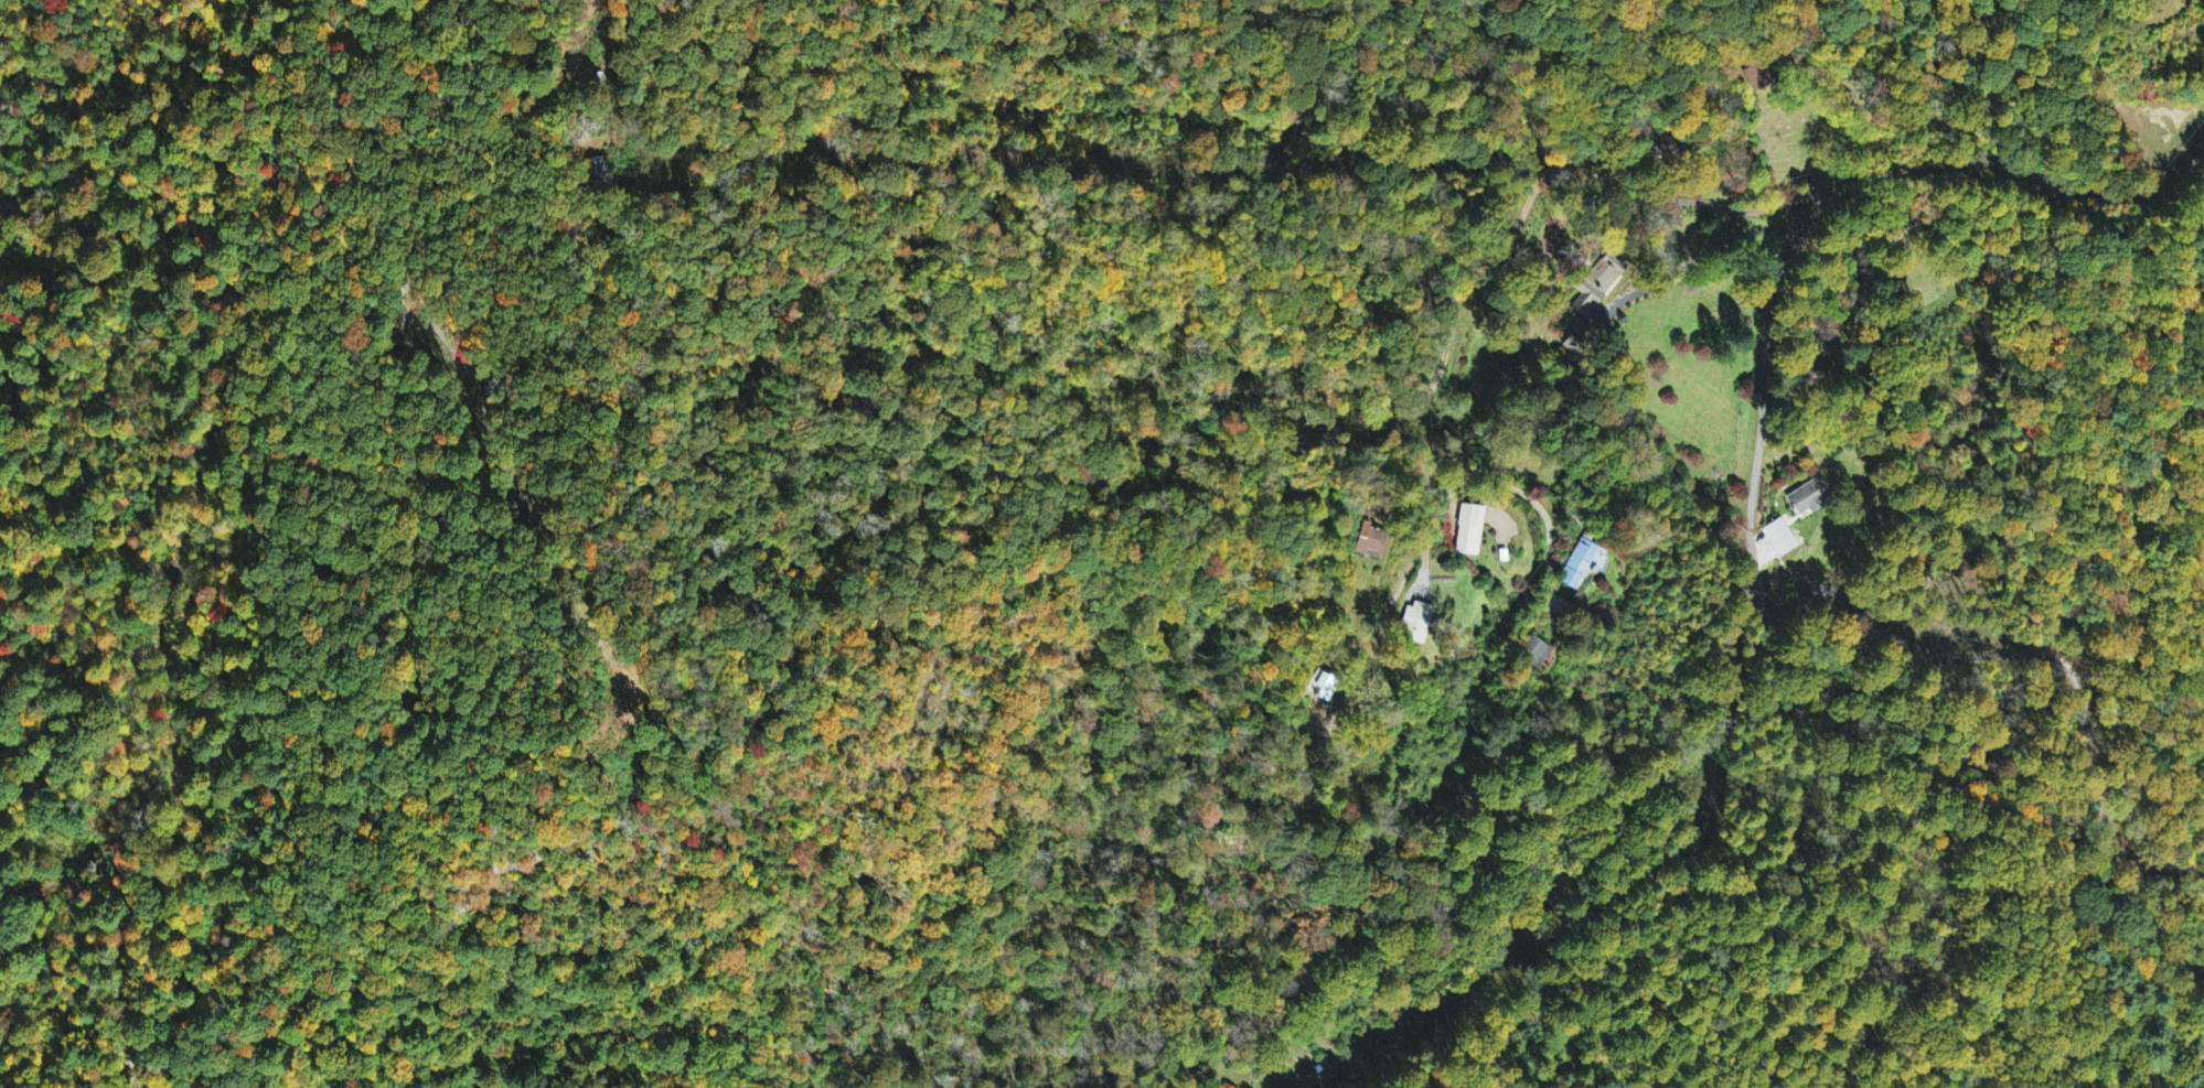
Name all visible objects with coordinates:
road: (1459, 292)
road: (1772, 304)
building: (1572, 346)
road: (306, 428)
road: (1498, 478)
building: (1811, 498)
building: (1478, 517)
building: (1584, 563)
road: (2031, 569)
road: (2072, 796)

